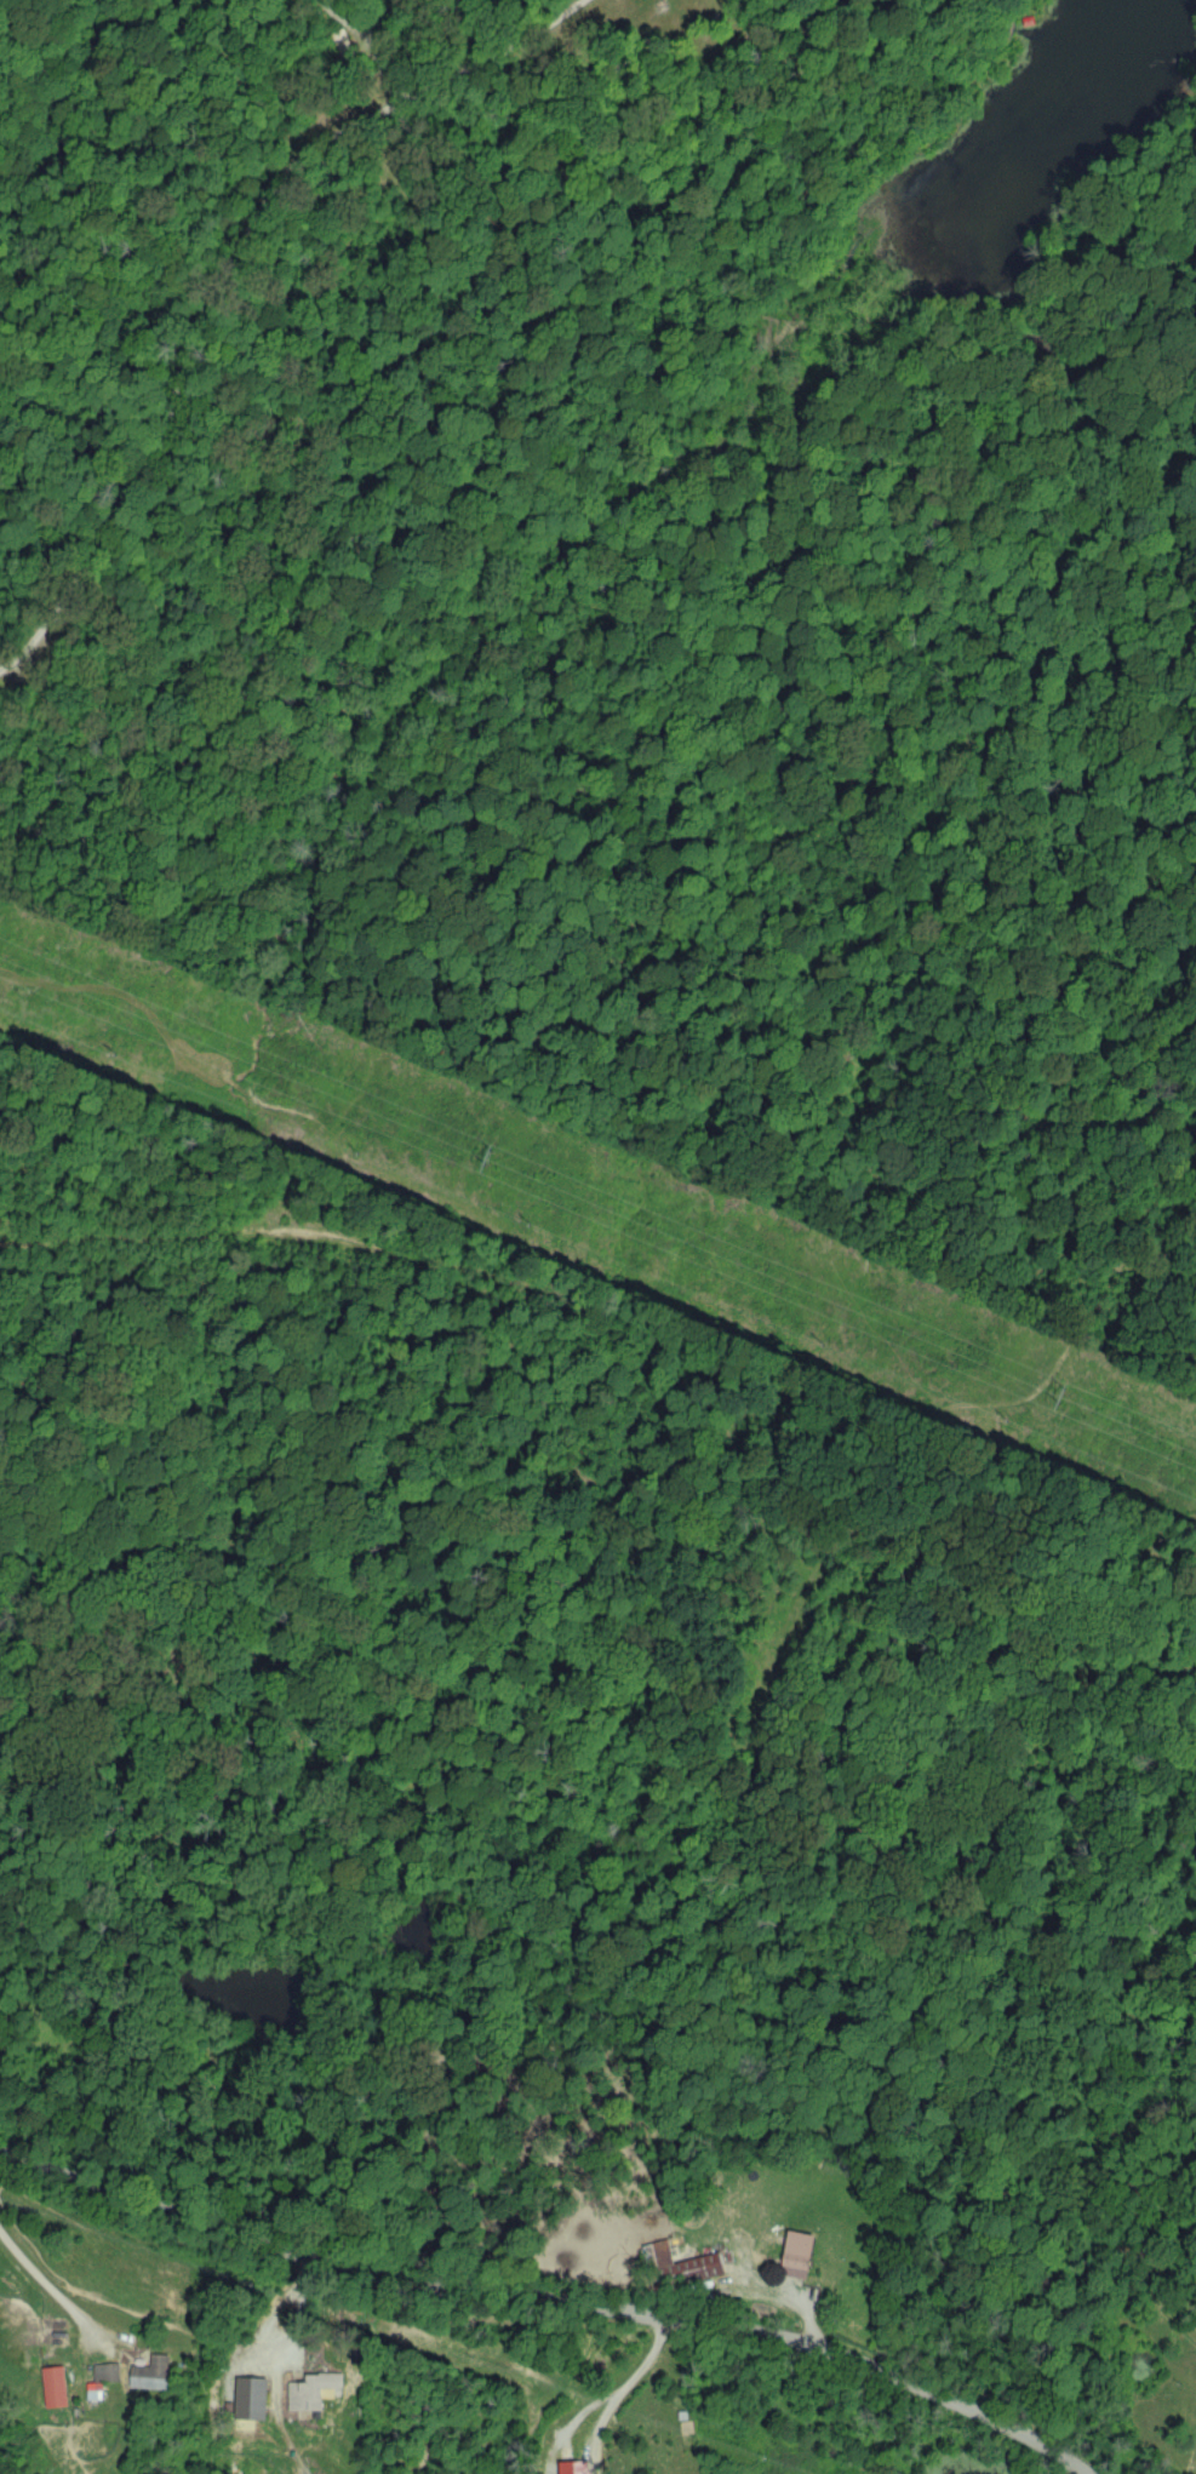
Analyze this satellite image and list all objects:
road: (222, 276)
power tower: (126, 1052)
power tower: (498, 1153)
power tower: (544, 1220)
power tower: (836, 1338)
power tower: (1069, 1393)
power tower: (1015, 1420)
building: (799, 2252)
building: (687, 2262)
road: (47, 2281)
road: (553, 2296)
road: (279, 2365)
building: (149, 2373)
building: (55, 2386)
building: (310, 2389)
road: (606, 2390)
building: (251, 2398)
building: (565, 2468)

